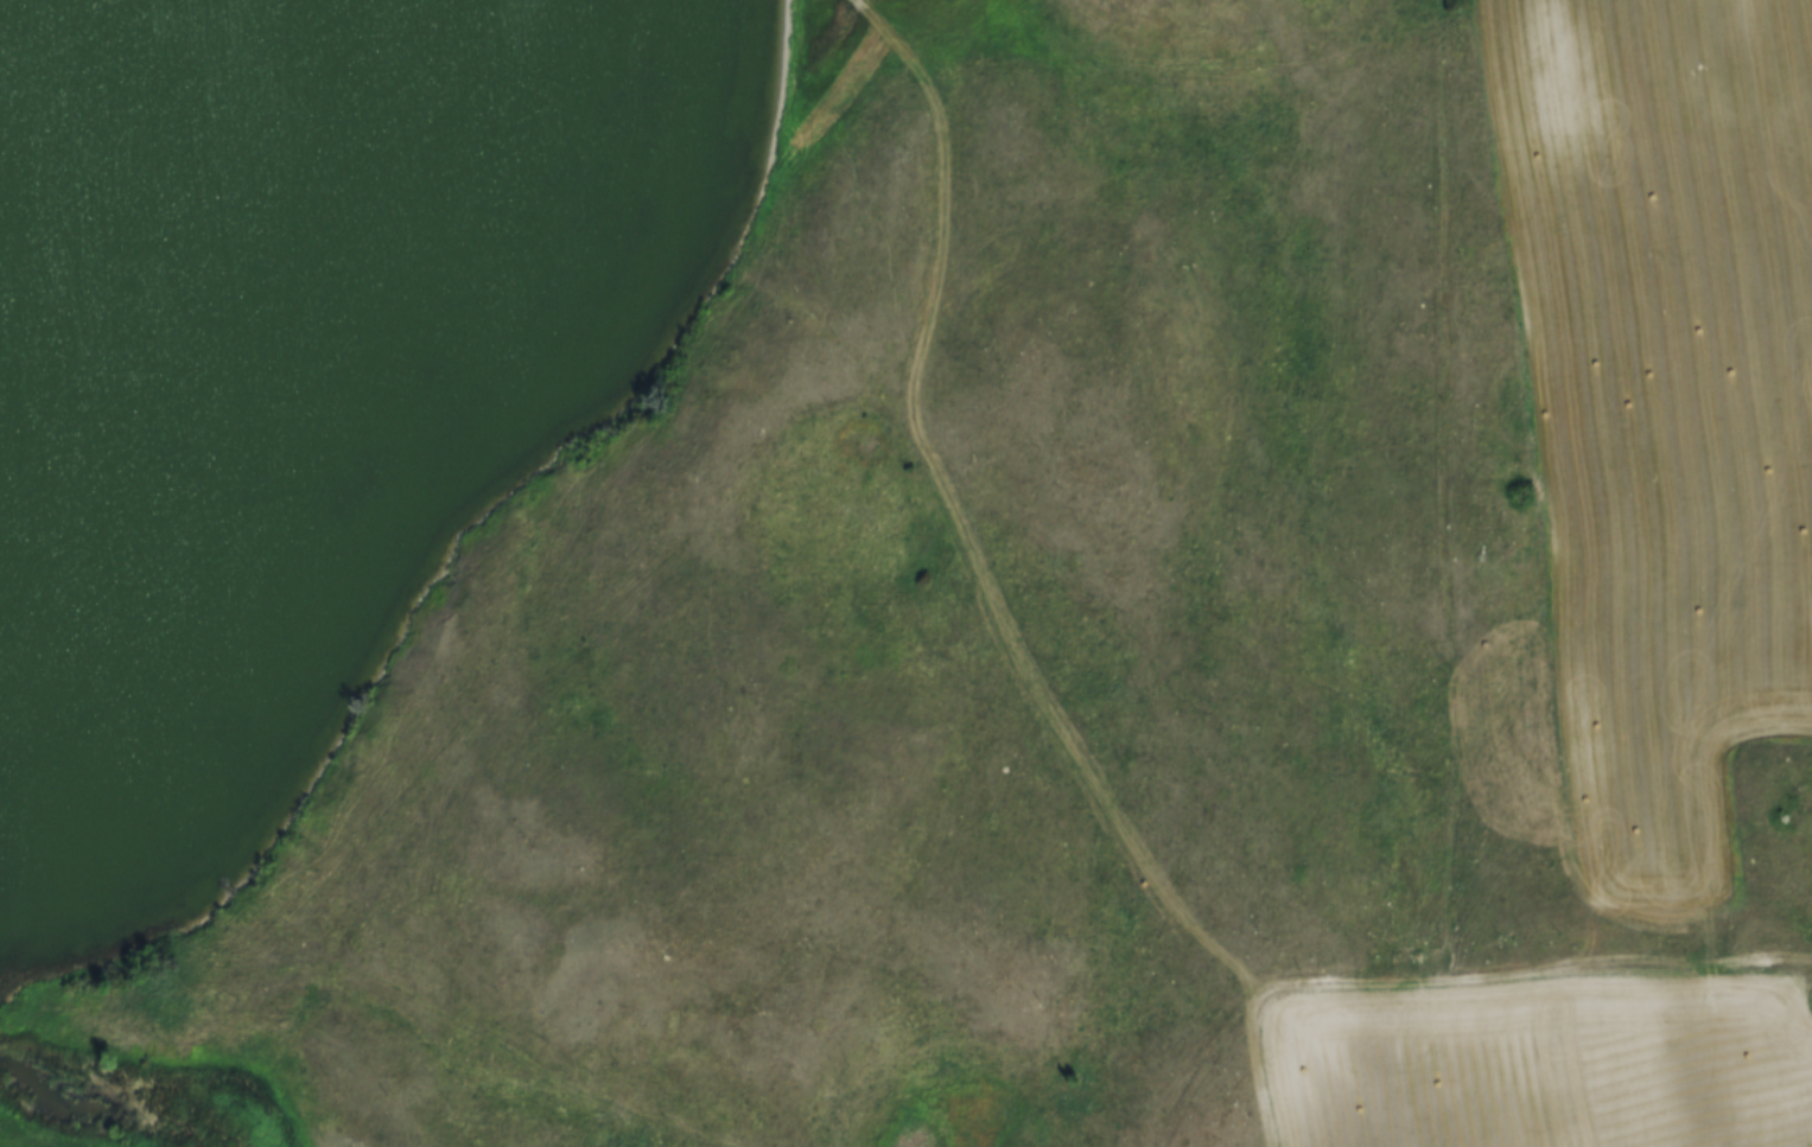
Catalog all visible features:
road: (987, 594)

